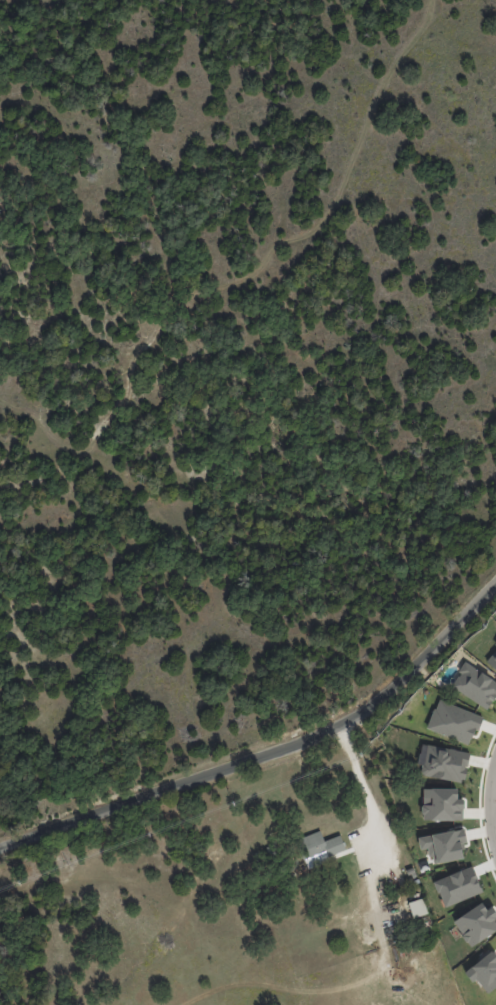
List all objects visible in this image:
building: (475, 685)
building: (453, 722)
road: (270, 752)
building: (444, 763)
road: (361, 782)
road: (488, 802)
building: (442, 804)
building: (443, 844)
building: (321, 846)
building: (410, 871)
building: (456, 886)
building: (417, 907)
building: (476, 923)
building: (484, 971)

